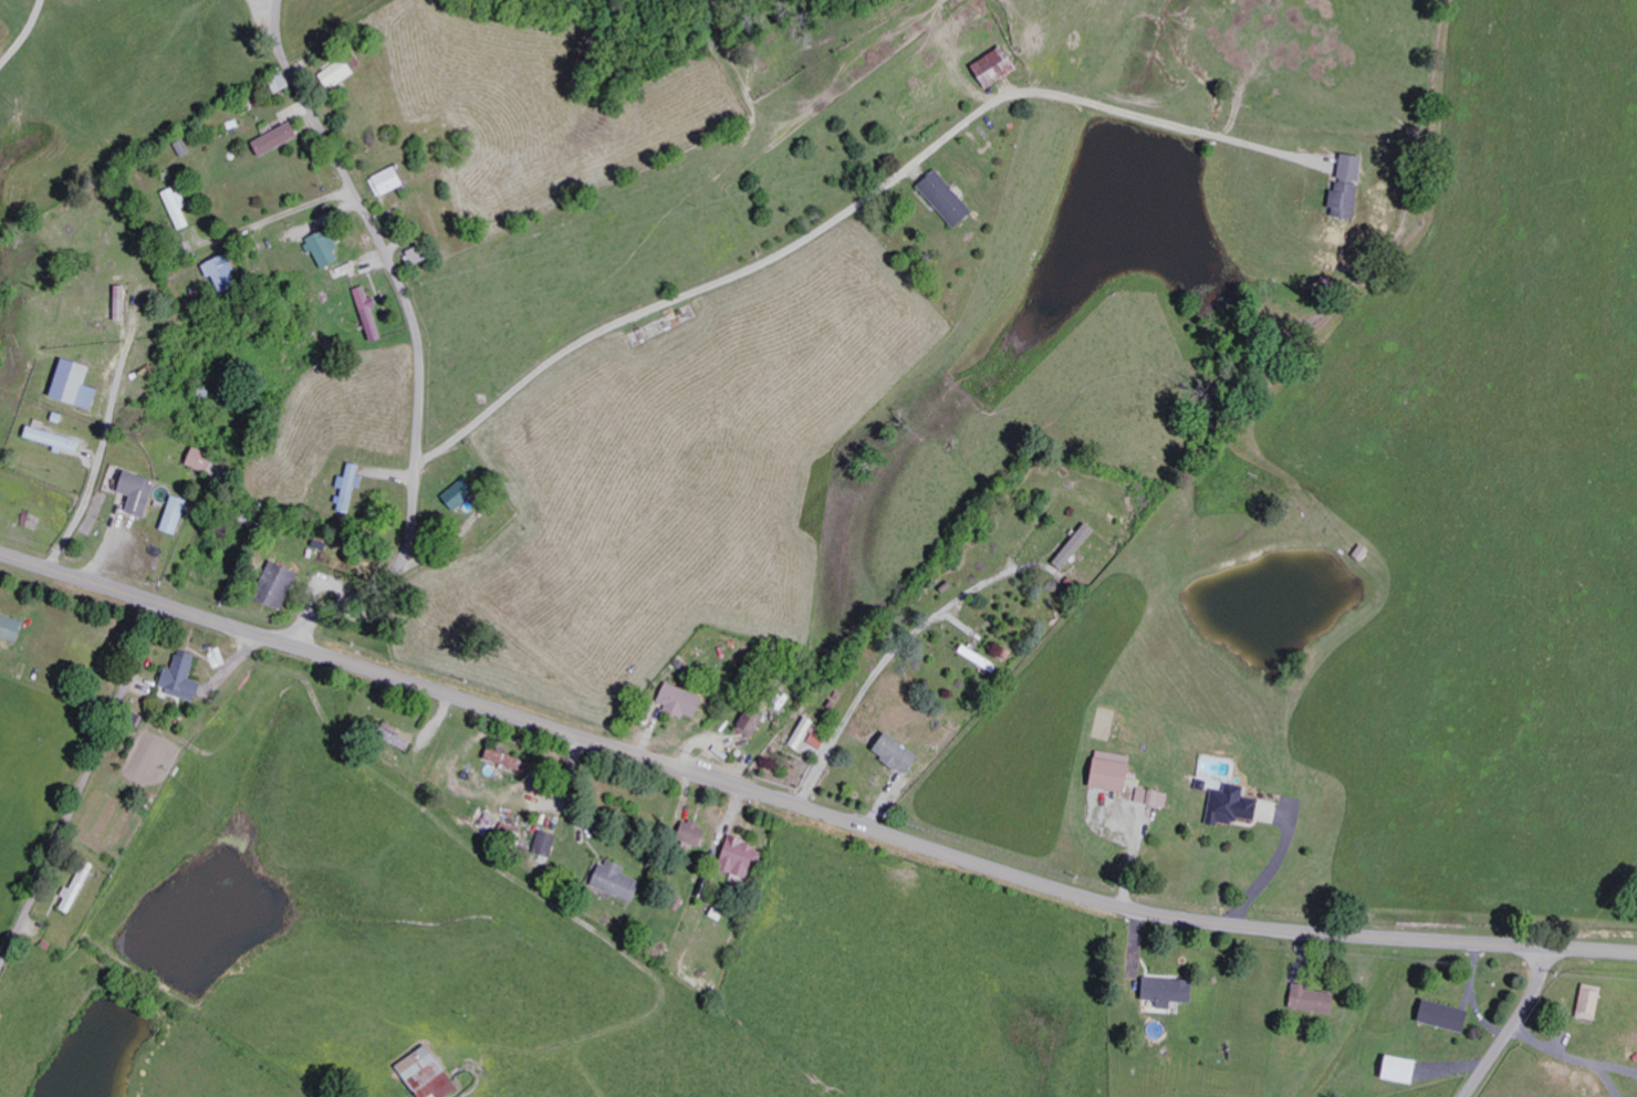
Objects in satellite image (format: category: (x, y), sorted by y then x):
building: (1001, 66)
building: (343, 73)
building: (281, 139)
building: (1355, 167)
building: (392, 181)
building: (951, 199)
building: (1349, 200)
building: (183, 208)
building: (329, 249)
building: (421, 254)
building: (228, 274)
building: (373, 314)
road: (417, 335)
road: (665, 339)
building: (81, 385)
building: (58, 440)
building: (206, 460)
road: (92, 487)
building: (353, 488)
building: (144, 492)
building: (465, 493)
road: (846, 514)
building: (179, 515)
building: (1078, 545)
building: (283, 586)
building: (13, 627)
building: (186, 679)
building: (225, 680)
building: (685, 702)
building: (757, 722)
building: (804, 733)
building: (821, 740)
building: (901, 754)
building: (514, 761)
building: (1117, 772)
road: (81, 787)
building: (1156, 797)
building: (1237, 806)
road: (806, 807)
building: (698, 834)
building: (549, 844)
building: (747, 858)
building: (622, 881)
building: (81, 892)
building: (1174, 992)
building: (1307, 1000)
building: (1586, 1002)
building: (1440, 1015)
road: (1515, 1025)
building: (1396, 1069)
building: (434, 1074)

